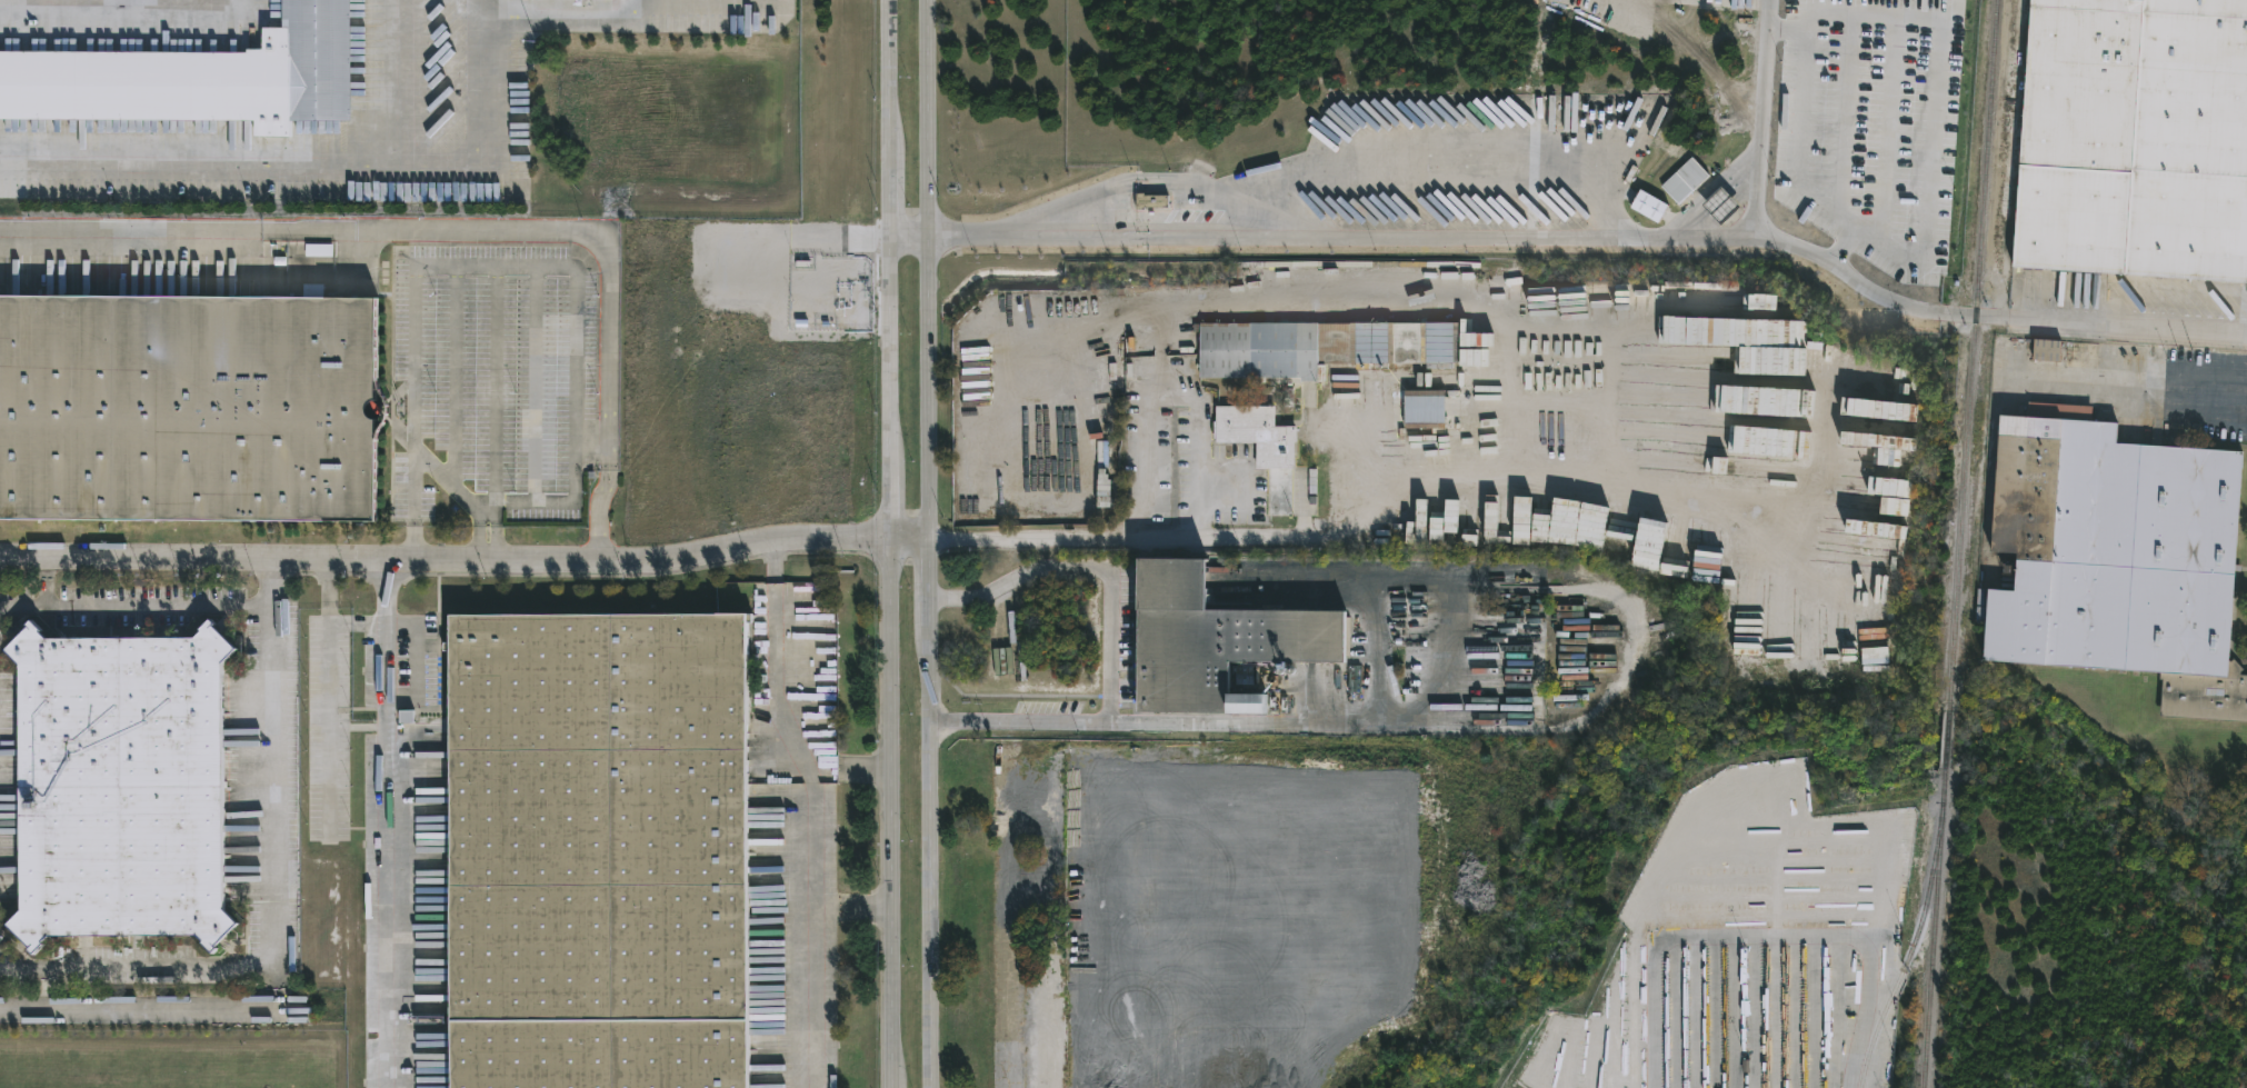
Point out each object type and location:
road: (705, 2)
road: (478, 9)
road: (565, 18)
road: (1933, 20)
road: (1787, 36)
building: (196, 77)
road: (406, 82)
road: (1888, 134)
building: (2134, 139)
road: (120, 163)
road: (430, 166)
road: (1445, 169)
building: (1687, 180)
road: (1170, 181)
building: (1152, 200)
building: (1649, 206)
building: (1724, 206)
road: (472, 234)
road: (1461, 239)
road: (910, 241)
road: (551, 264)
road: (1993, 316)
building: (1765, 345)
building: (1321, 346)
building: (2049, 350)
railway: (1973, 355)
road: (505, 385)
road: (2168, 392)
building: (1729, 399)
building: (1426, 408)
building: (190, 410)
road: (1144, 440)
building: (1312, 443)
building: (1264, 448)
building: (1731, 457)
road: (478, 535)
road: (498, 536)
road: (893, 543)
road: (932, 543)
building: (2121, 556)
road: (467, 565)
road: (47, 580)
road: (159, 610)
building: (1218, 638)
road: (388, 641)
road: (1110, 642)
road: (328, 646)
road: (775, 679)
road: (1421, 718)
road: (361, 727)
railway: (1946, 738)
road: (848, 771)
road: (329, 779)
building: (118, 785)
building: (598, 849)
road: (391, 902)
road: (274, 920)
railway: (1931, 926)
road: (811, 944)
railway: (1905, 957)
road: (138, 1004)

